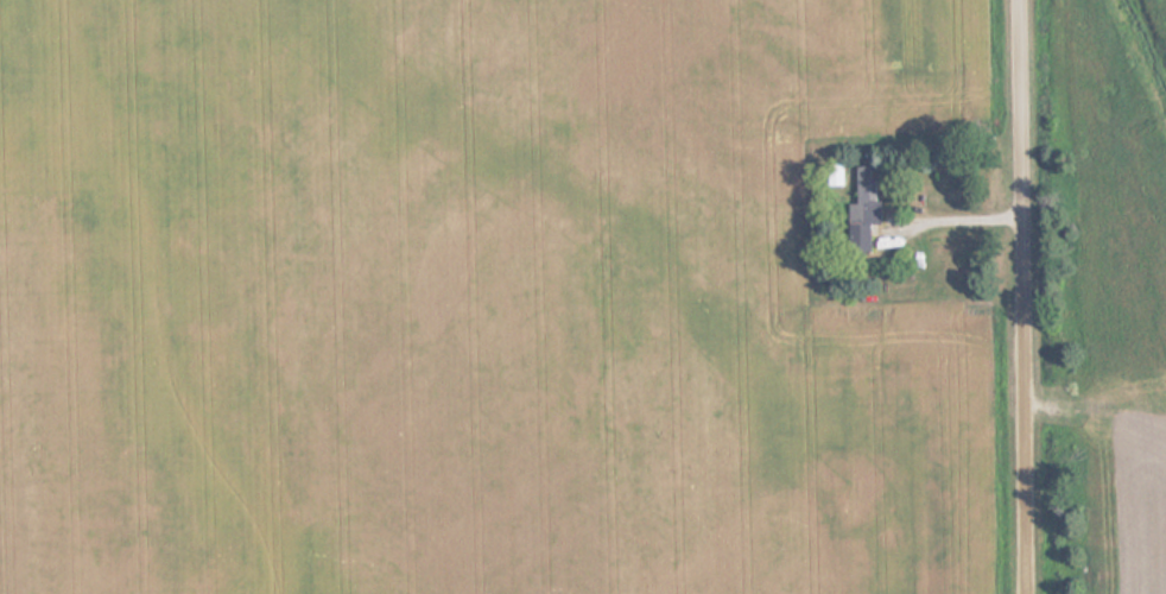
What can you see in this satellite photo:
building: (860, 213)
road: (1027, 297)

